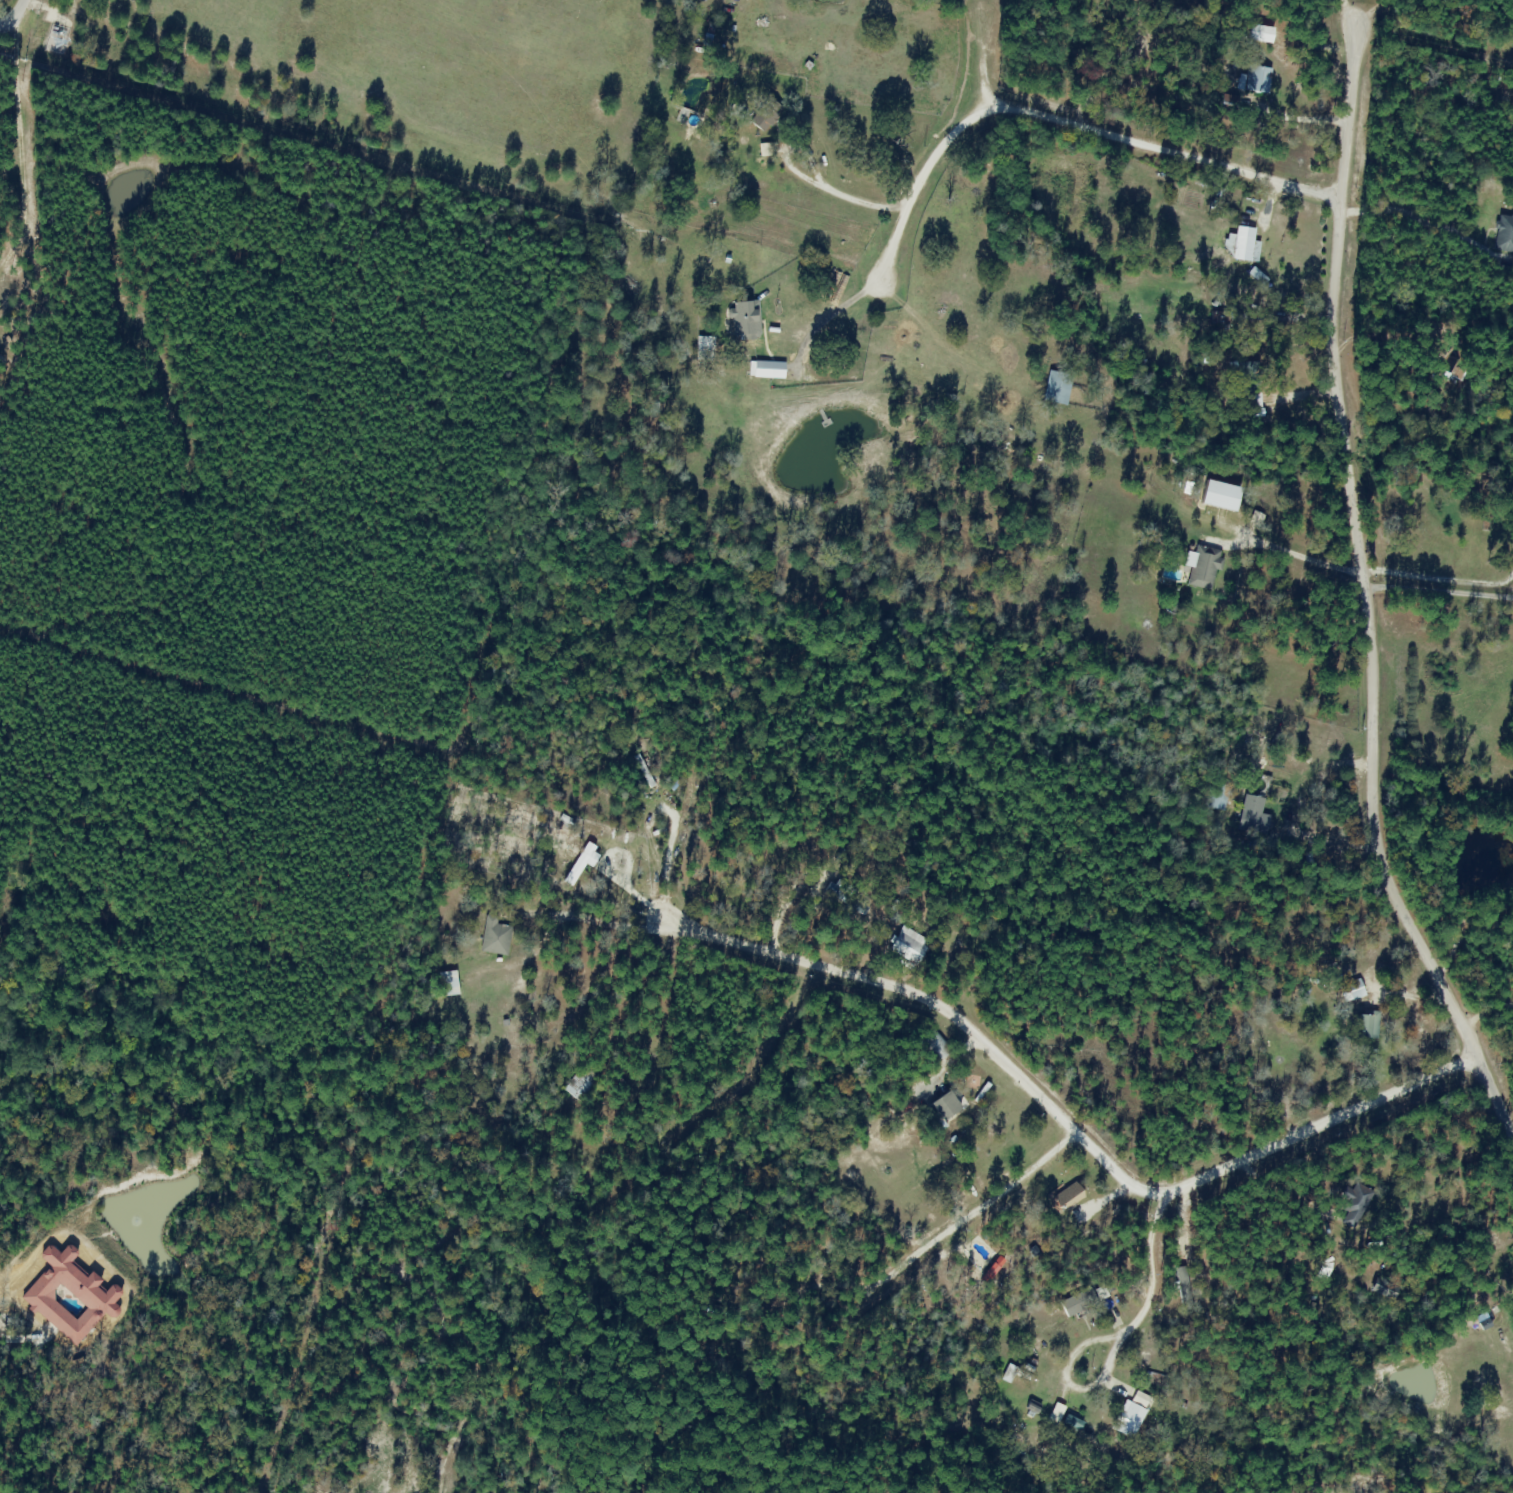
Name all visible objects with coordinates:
road: (23, 21)
road: (1379, 22)
road: (980, 50)
building: (1255, 78)
road: (1347, 98)
building: (764, 114)
road: (1165, 149)
road: (918, 185)
road: (1424, 218)
building: (1504, 234)
building: (1238, 244)
road: (872, 247)
building: (744, 320)
building: (1249, 384)
building: (1056, 387)
building: (1202, 567)
road: (1371, 680)
building: (644, 770)
building: (1218, 795)
building: (1252, 815)
building: (845, 897)
building: (495, 936)
building: (908, 945)
building: (448, 983)
building: (1350, 990)
building: (1365, 1024)
building: (933, 1045)
building: (581, 1084)
building: (943, 1105)
road: (1076, 1124)
building: (1067, 1196)
building: (1354, 1203)
road: (20, 1281)
building: (1075, 1303)
building: (1112, 1317)
building: (1055, 1414)
building: (1130, 1414)

